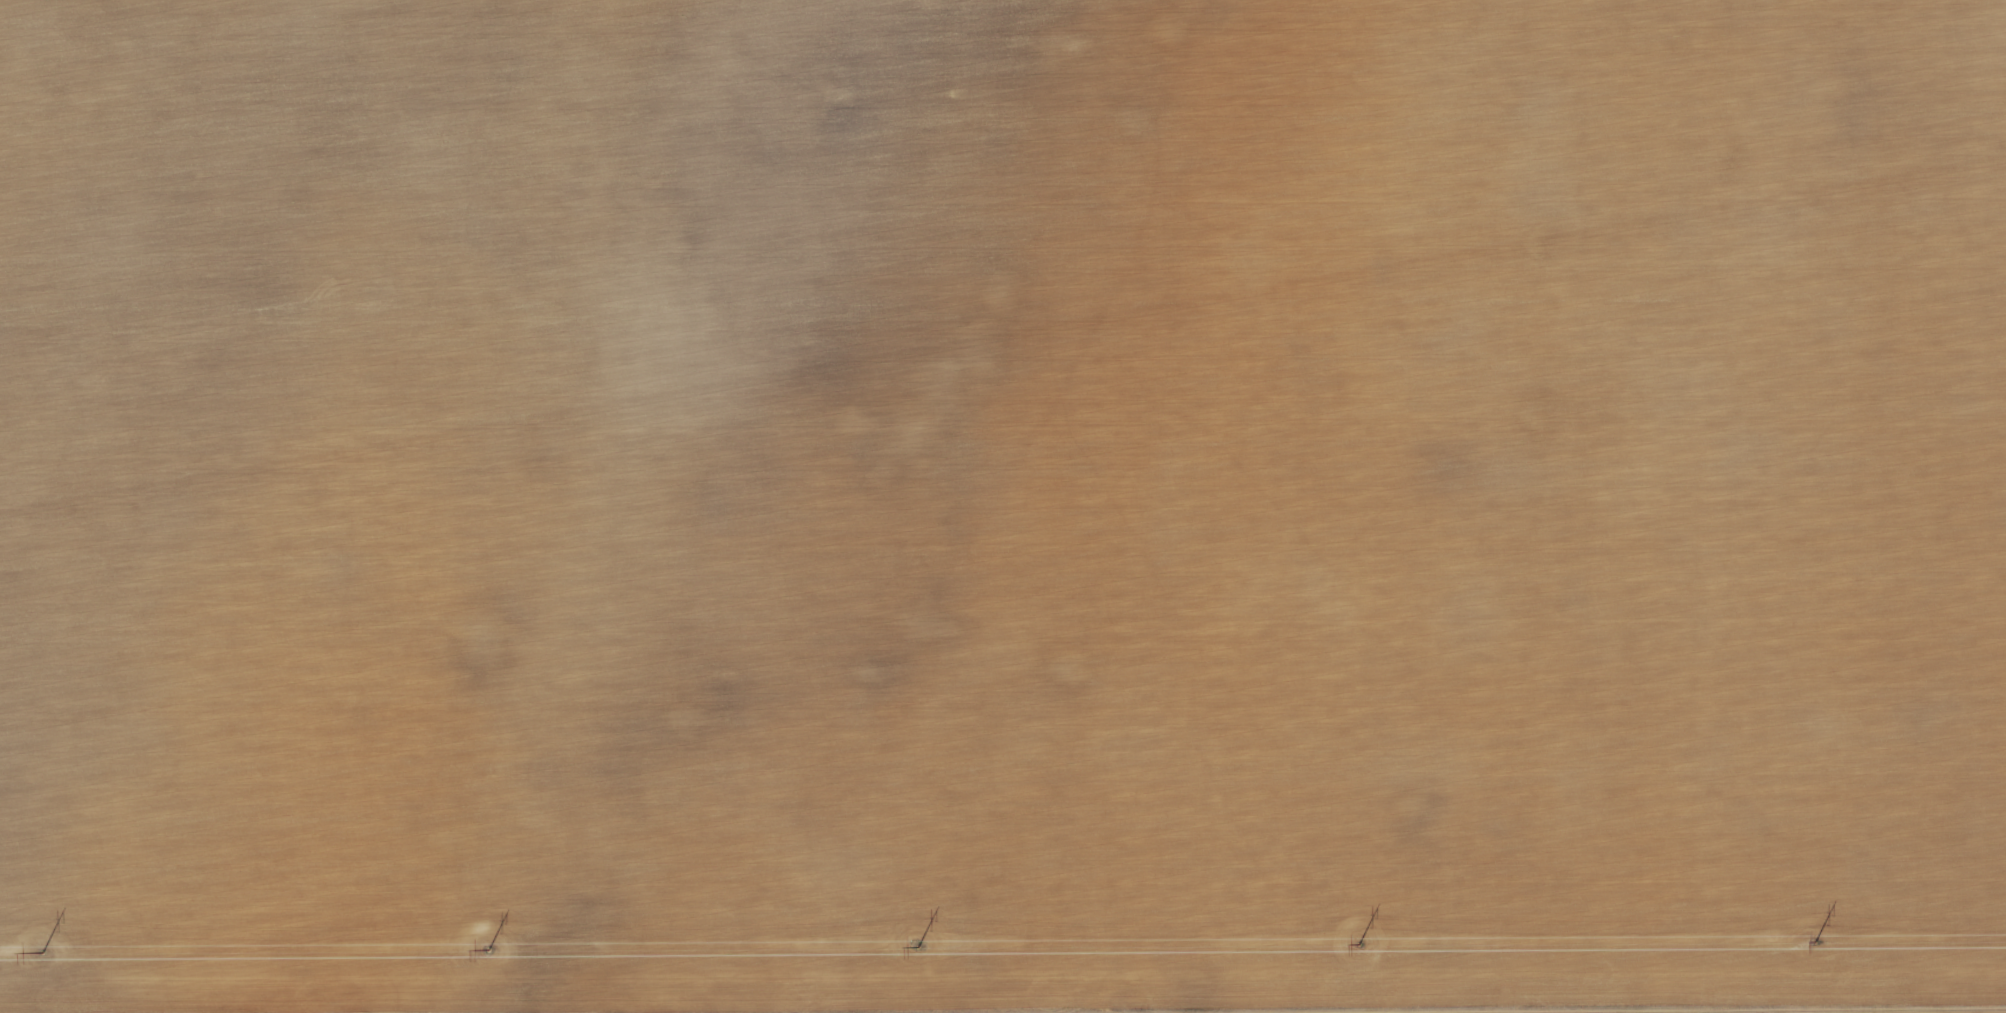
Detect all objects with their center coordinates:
power tower: (1813, 942)
power tower: (1356, 945)
power tower: (915, 947)
power tower: (487, 950)
power tower: (41, 952)

